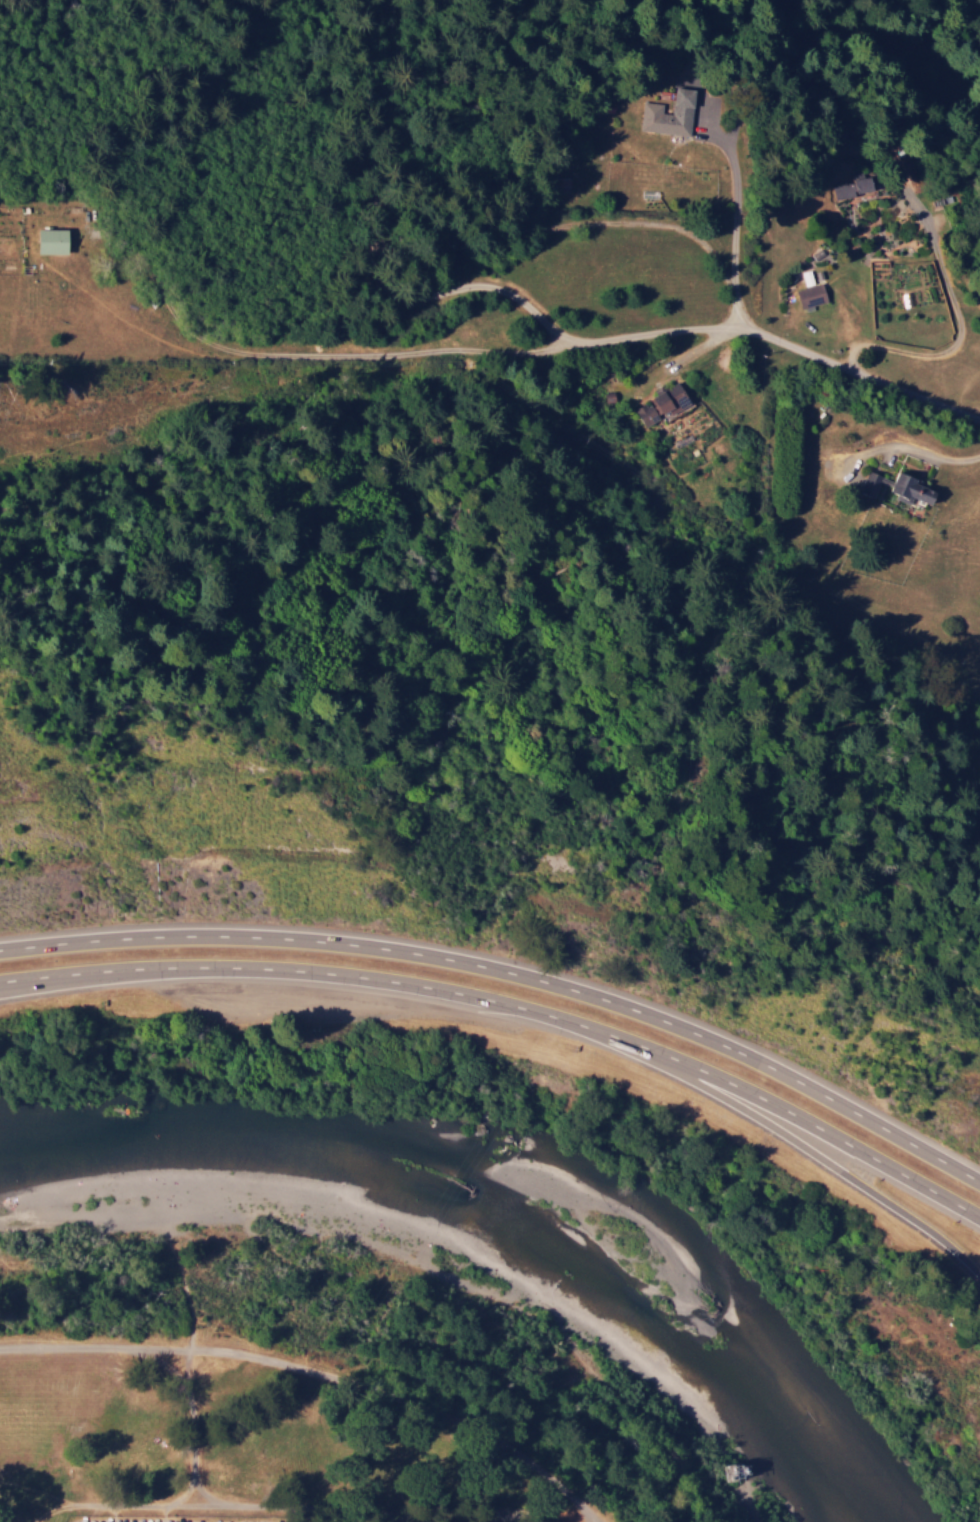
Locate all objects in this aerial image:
building: (668, 114)
building: (852, 188)
building: (52, 241)
building: (806, 278)
building: (810, 295)
road: (776, 336)
building: (661, 404)
building: (898, 488)
road: (511, 972)
road: (71, 979)
road: (512, 1009)
river: (541, 1149)
road: (806, 1157)

